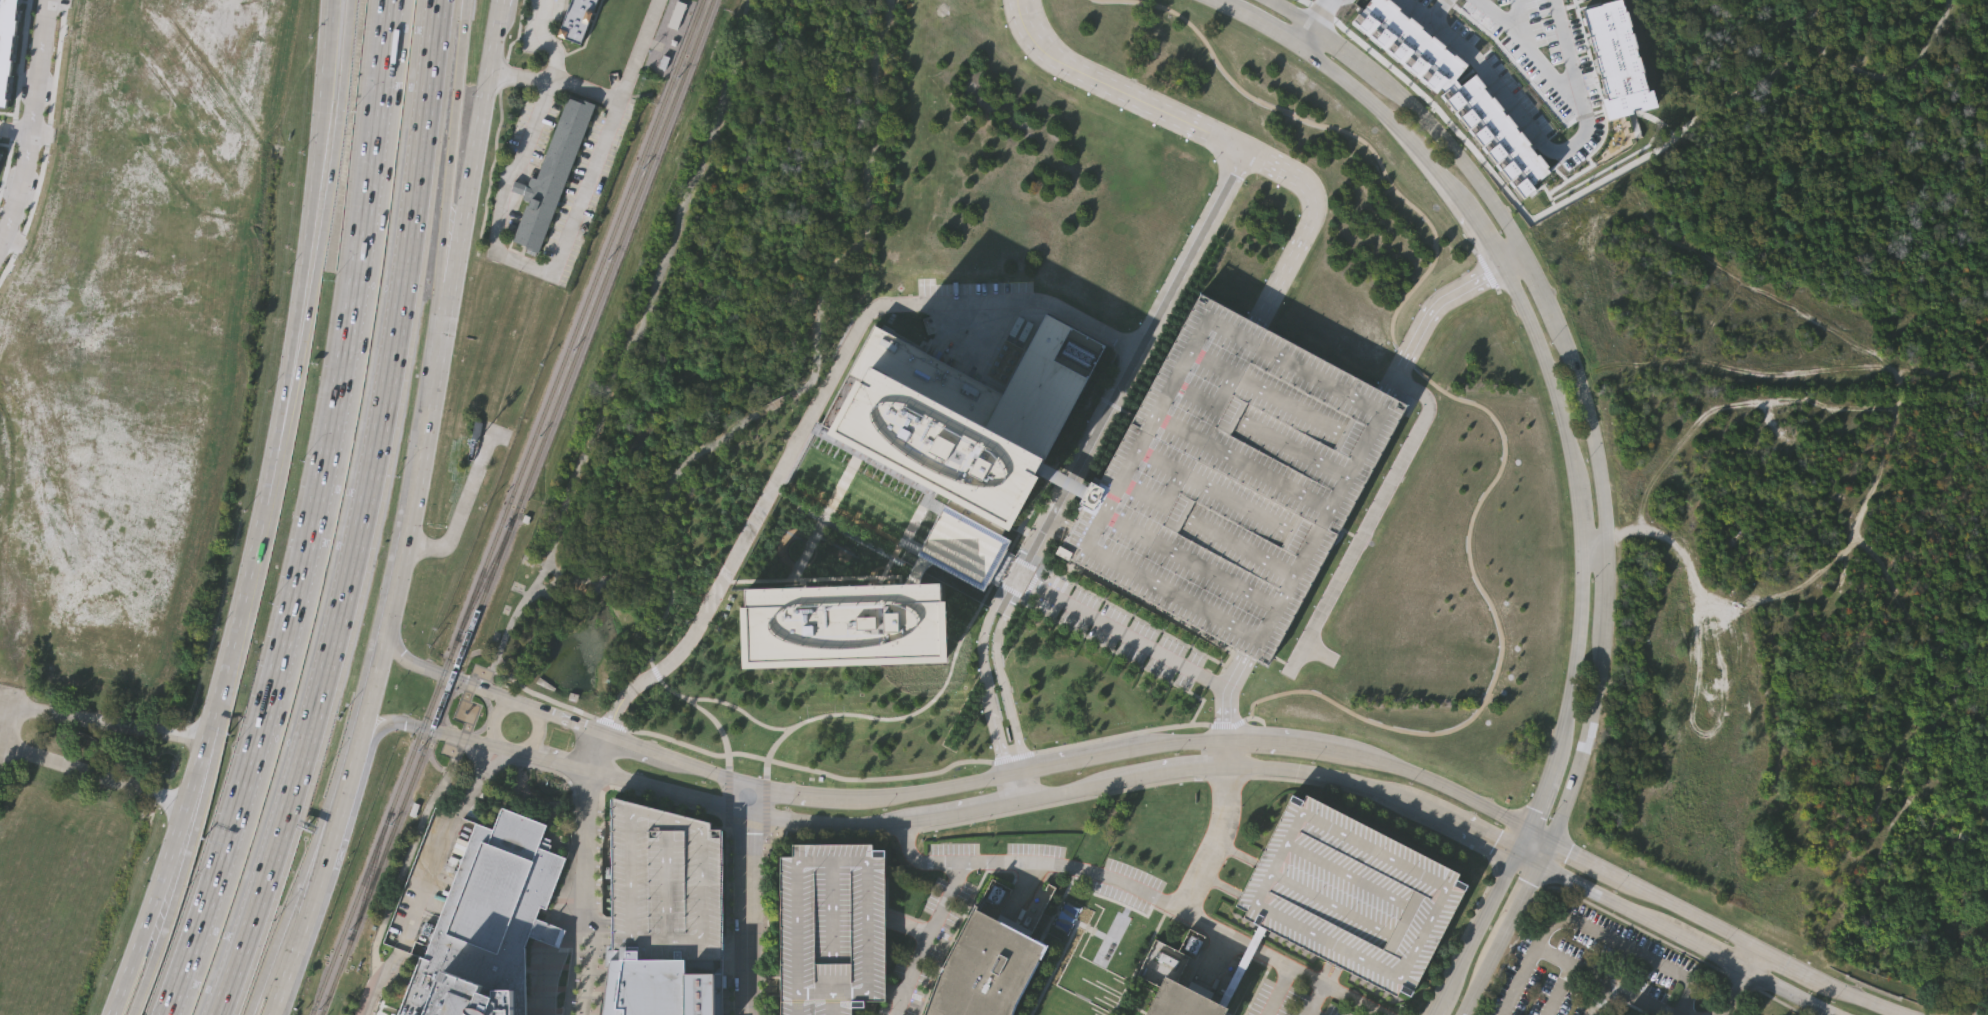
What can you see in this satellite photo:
parking lot: (1422, 0)
parking lot: (1509, 6)
road: (1423, 8)
road: (463, 9)
road: (1290, 10)
road: (1314, 10)
road: (328, 11)
building: (677, 16)
road: (1813, 17)
building: (578, 19)
road: (1525, 21)
road: (1301, 33)
parking lot: (1553, 33)
road: (543, 40)
building: (6, 41)
road: (1818, 41)
road: (1342, 47)
road: (346, 50)
road: (1575, 51)
parking lot: (1584, 51)
parking lot: (1522, 52)
building: (1616, 57)
park: (1853, 63)
parking lot: (1501, 69)
road: (1901, 74)
road: (1762, 81)
road: (428, 89)
building: (1454, 91)
road: (454, 111)
road: (30, 122)
road: (15, 127)
road: (1218, 138)
road: (1565, 150)
road: (1453, 152)
building: (552, 172)
road: (868, 206)
road: (446, 253)
road: (300, 263)
road: (541, 267)
road: (1543, 285)
road: (1777, 299)
road: (310, 303)
road: (1435, 303)
road: (1713, 319)
park: (717, 328)
road: (1541, 361)
road: (1732, 368)
road: (605, 402)
road: (778, 403)
road: (1714, 408)
road: (815, 409)
building: (961, 423)
building: (477, 431)
road: (1593, 432)
road: (1074, 468)
building: (1233, 477)
parking garage: (1233, 477)
road: (667, 488)
road: (458, 503)
railway: (506, 507)
railway: (517, 507)
road: (410, 513)
road: (1862, 513)
road: (1370, 514)
road: (312, 515)
road: (1592, 541)
building: (962, 550)
road: (1683, 563)
building: (917, 572)
road: (571, 578)
railway: (483, 579)
road: (608, 581)
road: (1605, 583)
road: (547, 585)
road: (1791, 591)
road: (242, 596)
road: (341, 602)
road: (972, 618)
building: (842, 625)
road: (1121, 631)
road: (655, 673)
road: (450, 676)
road: (512, 702)
road: (1223, 707)
road: (739, 709)
street lamp: (480, 714)
road: (567, 720)
road: (99, 724)
road: (1459, 725)
road: (417, 726)
road: (6, 728)
road: (1587, 738)
road: (1183, 740)
road: (1284, 742)
street lamp: (570, 743)
road: (487, 745)
road: (637, 746)
road: (598, 752)
street lamp: (1174, 752)
road: (526, 757)
road: (477, 758)
road: (496, 759)
road: (1078, 759)
street lamp: (1310, 762)
road: (508, 764)
road: (566, 766)
road: (1173, 769)
road: (708, 770)
street lamp: (1077, 772)
road: (91, 773)
road: (1225, 777)
road: (1334, 777)
street lamp: (700, 781)
street lamp: (1408, 782)
road: (1437, 784)
road: (586, 786)
road: (937, 788)
street lamp: (978, 790)
road: (1071, 790)
road: (726, 791)
road: (444, 794)
road: (803, 794)
road: (461, 803)
street lamp: (784, 806)
road: (763, 807)
street lamp: (882, 809)
road: (970, 810)
road: (753, 813)
street lamp: (1493, 822)
road: (829, 833)
road: (1475, 833)
road: (1452, 836)
road: (1537, 836)
road: (765, 842)
road: (187, 850)
road: (167, 853)
road: (1542, 853)
road: (435, 856)
road: (1525, 858)
road: (1586, 862)
building: (1687, 862)
road: (304, 868)
road: (1029, 871)
railway: (369, 875)
road: (1019, 885)
building: (664, 888)
parking garage: (664, 888)
road: (394, 889)
street lamp: (1612, 890)
road: (585, 892)
road: (1146, 892)
building: (1349, 892)
parking garage: (1349, 892)
road: (946, 896)
road: (1103, 896)
building: (499, 899)
road: (747, 899)
road: (1609, 900)
road: (1516, 902)
road: (1165, 907)
road: (1613, 914)
road: (1686, 914)
road: (726, 915)
road: (766, 919)
road: (906, 924)
building: (830, 926)
parking garage: (830, 926)
road: (954, 927)
road: (1472, 933)
road: (597, 935)
road: (1065, 940)
street lamp: (1723, 940)
road: (1146, 945)
road: (1623, 945)
road: (1534, 948)
road: (1710, 951)
road: (1743, 956)
building: (983, 962)
road: (1784, 964)
road: (1277, 965)
parking lot: (1586, 967)
road: (1320, 971)
building: (1986, 976)
road: (1332, 978)
road: (1477, 978)
road: (1854, 979)
building: (661, 989)
road: (1556, 990)
road: (1620, 991)
road: (1787, 991)
road: (1881, 991)
road: (1733, 992)
building: (460, 993)
road: (893, 993)
road: (1277, 993)
road: (1120, 995)
road: (1312, 999)
road: (1861, 999)
building: (1182, 1000)
parking lot: (1286, 1000)
road: (1920, 1003)
road: (251, 1004)
road: (133, 1011)
road: (1110, 1013)
road: (1305, 1013)
road: (1309, 1013)
road: (1422, 1014)

